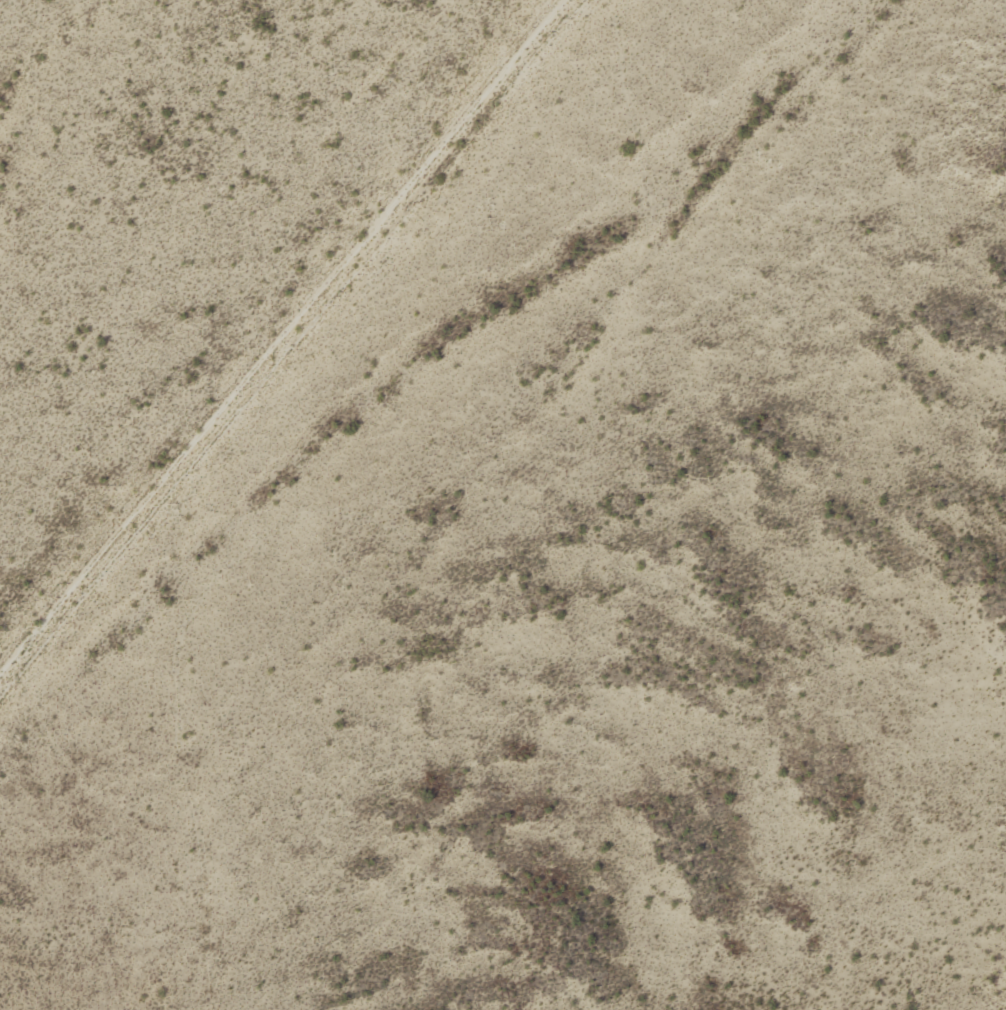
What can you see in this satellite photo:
road: (289, 344)

